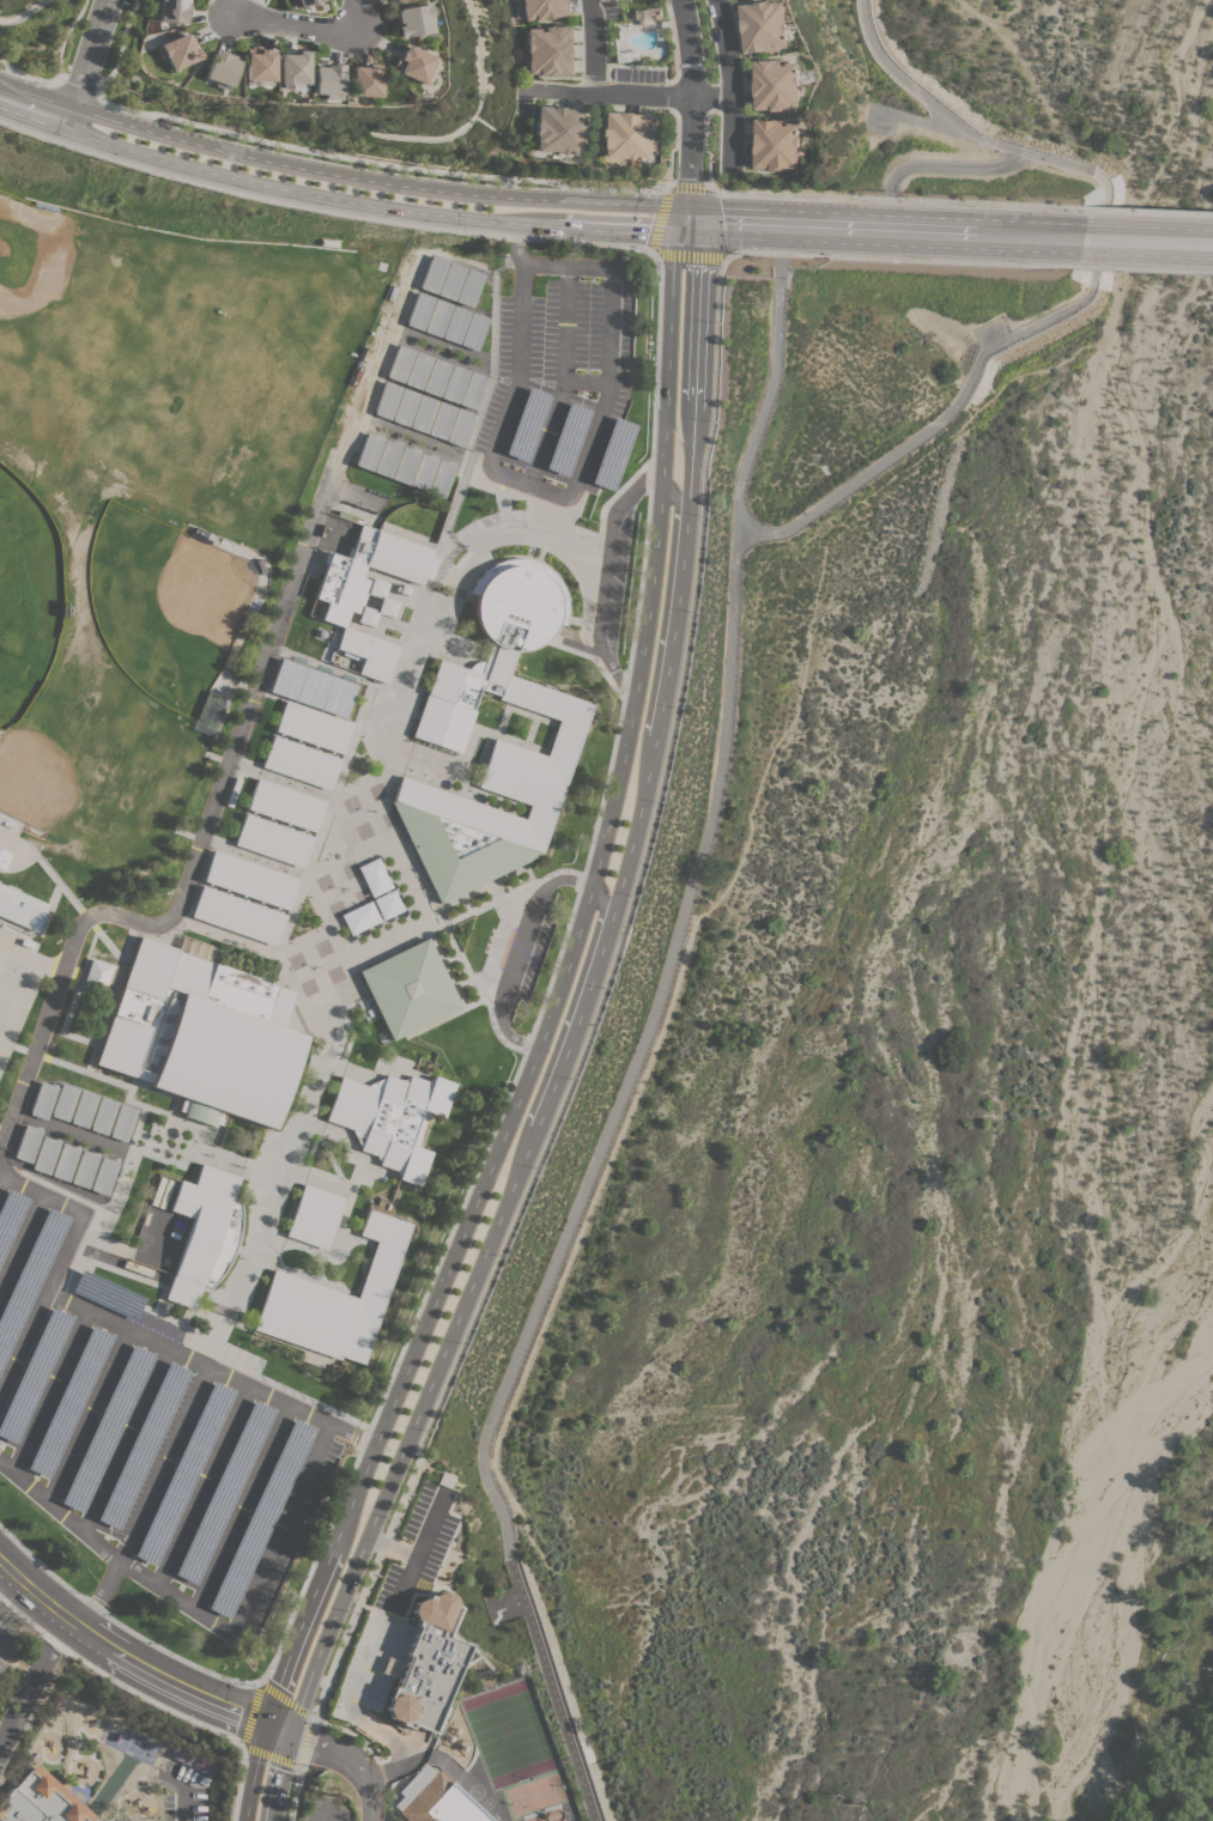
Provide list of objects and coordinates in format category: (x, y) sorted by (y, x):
building: (396, 1)
building: (305, 2)
road: (363, 4)
building: (545, 8)
building: (174, 11)
building: (649, 12)
road: (20, 13)
building: (412, 20)
road: (301, 23)
building: (763, 25)
road: (598, 47)
building: (551, 50)
building: (178, 51)
road: (91, 62)
building: (259, 65)
building: (412, 65)
road: (59, 69)
building: (220, 69)
building: (293, 71)
building: (327, 80)
building: (364, 80)
road: (729, 84)
building: (776, 84)
road: (75, 89)
road: (630, 96)
road: (37, 110)
road: (692, 110)
road: (917, 120)
building: (559, 129)
building: (631, 134)
building: (776, 144)
road: (376, 163)
road: (927, 165)
road: (381, 182)
road: (897, 199)
road: (376, 207)
road: (1151, 211)
traffic signals: (689, 224)
road: (734, 225)
road: (833, 229)
road: (654, 235)
road: (983, 235)
road: (1147, 241)
road: (516, 245)
road: (902, 259)
road: (566, 266)
road: (1147, 268)
building: (435, 274)
building: (453, 281)
building: (471, 287)
road: (1088, 290)
building: (421, 311)
building: (439, 318)
building: (457, 324)
building: (475, 330)
road: (609, 330)
road: (665, 352)
building: (402, 364)
road: (693, 365)
building: (419, 370)
building: (438, 377)
road: (775, 377)
road: (563, 380)
building: (456, 384)
building: (473, 390)
building: (388, 401)
building: (406, 407)
building: (424, 414)
building: (443, 421)
building: (527, 425)
building: (460, 427)
building: (568, 439)
building: (369, 451)
building: (613, 454)
building: (387, 459)
road: (490, 463)
building: (405, 466)
building: (423, 472)
building: (441, 479)
road: (672, 499)
road: (742, 521)
road: (606, 583)
building: (369, 593)
road: (650, 595)
park: (24, 596)
building: (311, 688)
road: (655, 714)
building: (314, 727)
building: (442, 728)
building: (301, 763)
road: (609, 796)
building: (286, 805)
road: (592, 831)
building: (274, 840)
building: (4, 858)
road: (193, 861)
building: (375, 878)
building: (250, 880)
road: (598, 902)
building: (387, 904)
building: (20, 908)
building: (238, 916)
building: (360, 917)
road: (516, 951)
park: (0, 961)
building: (96, 977)
building: (410, 989)
park: (14, 995)
building: (204, 1036)
park: (2, 1051)
building: (43, 1100)
building: (65, 1103)
building: (84, 1109)
building: (103, 1116)
building: (390, 1118)
building: (122, 1123)
building: (28, 1143)
building: (46, 1155)
building: (65, 1163)
road: (1, 1169)
building: (84, 1170)
building: (104, 1176)
road: (586, 1185)
building: (315, 1216)
building: (10, 1218)
building: (205, 1233)
road: (60, 1259)
building: (29, 1279)
building: (108, 1295)
building: (334, 1300)
road: (412, 1355)
road: (432, 1364)
road: (211, 1367)
building: (34, 1374)
building: (71, 1402)
building: (107, 1428)
parking lot: (144, 1440)
building: (144, 1446)
building: (184, 1473)
building: (224, 1493)
building: (261, 1517)
road: (90, 1537)
road: (419, 1550)
road: (1, 1567)
road: (404, 1582)
road: (184, 1607)
road: (135, 1662)
building: (424, 1665)
road: (31, 1681)
road: (353, 1713)
traffic signals: (263, 1725)
traffic signals: (290, 1735)
building: (193, 1761)
road: (350, 1761)
road: (183, 1789)
building: (436, 1799)
building: (41, 1801)
road: (327, 1810)

